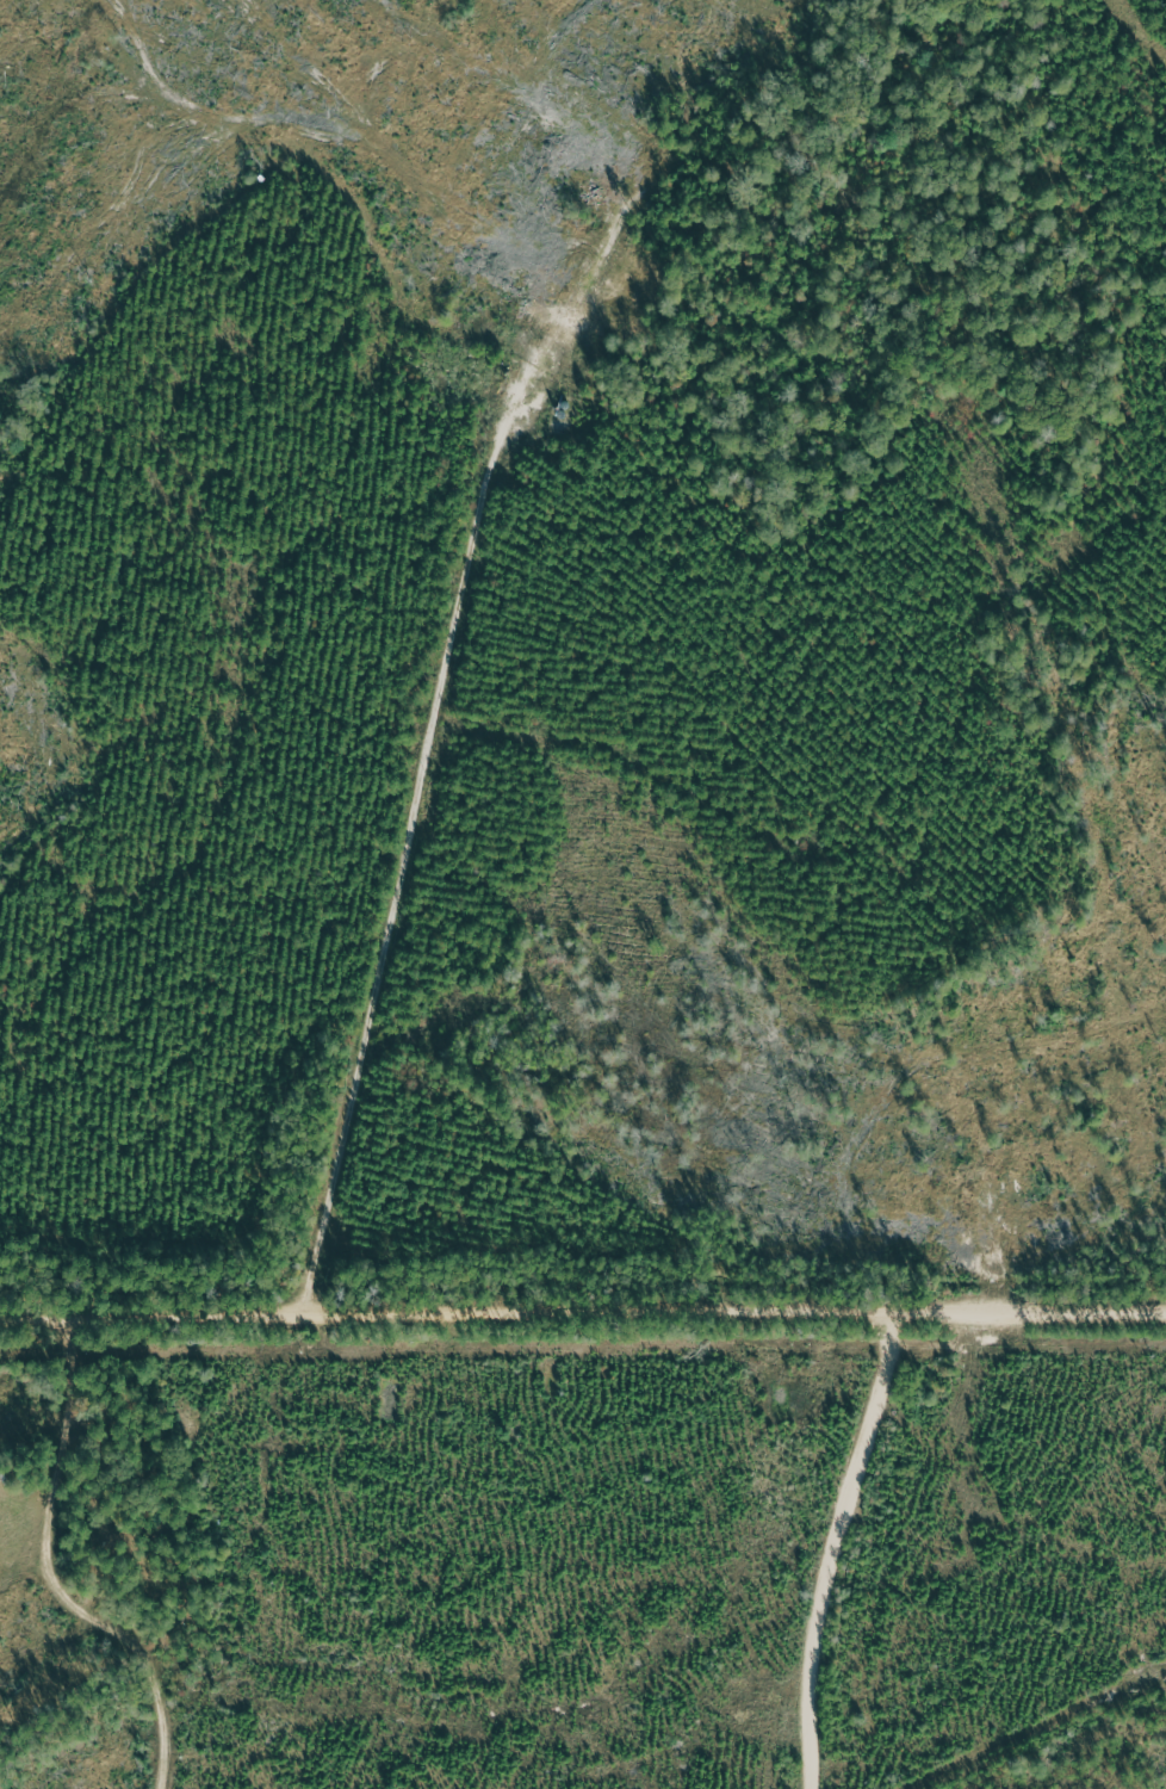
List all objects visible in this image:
road: (582, 1317)
road: (826, 1549)
road: (50, 1572)

